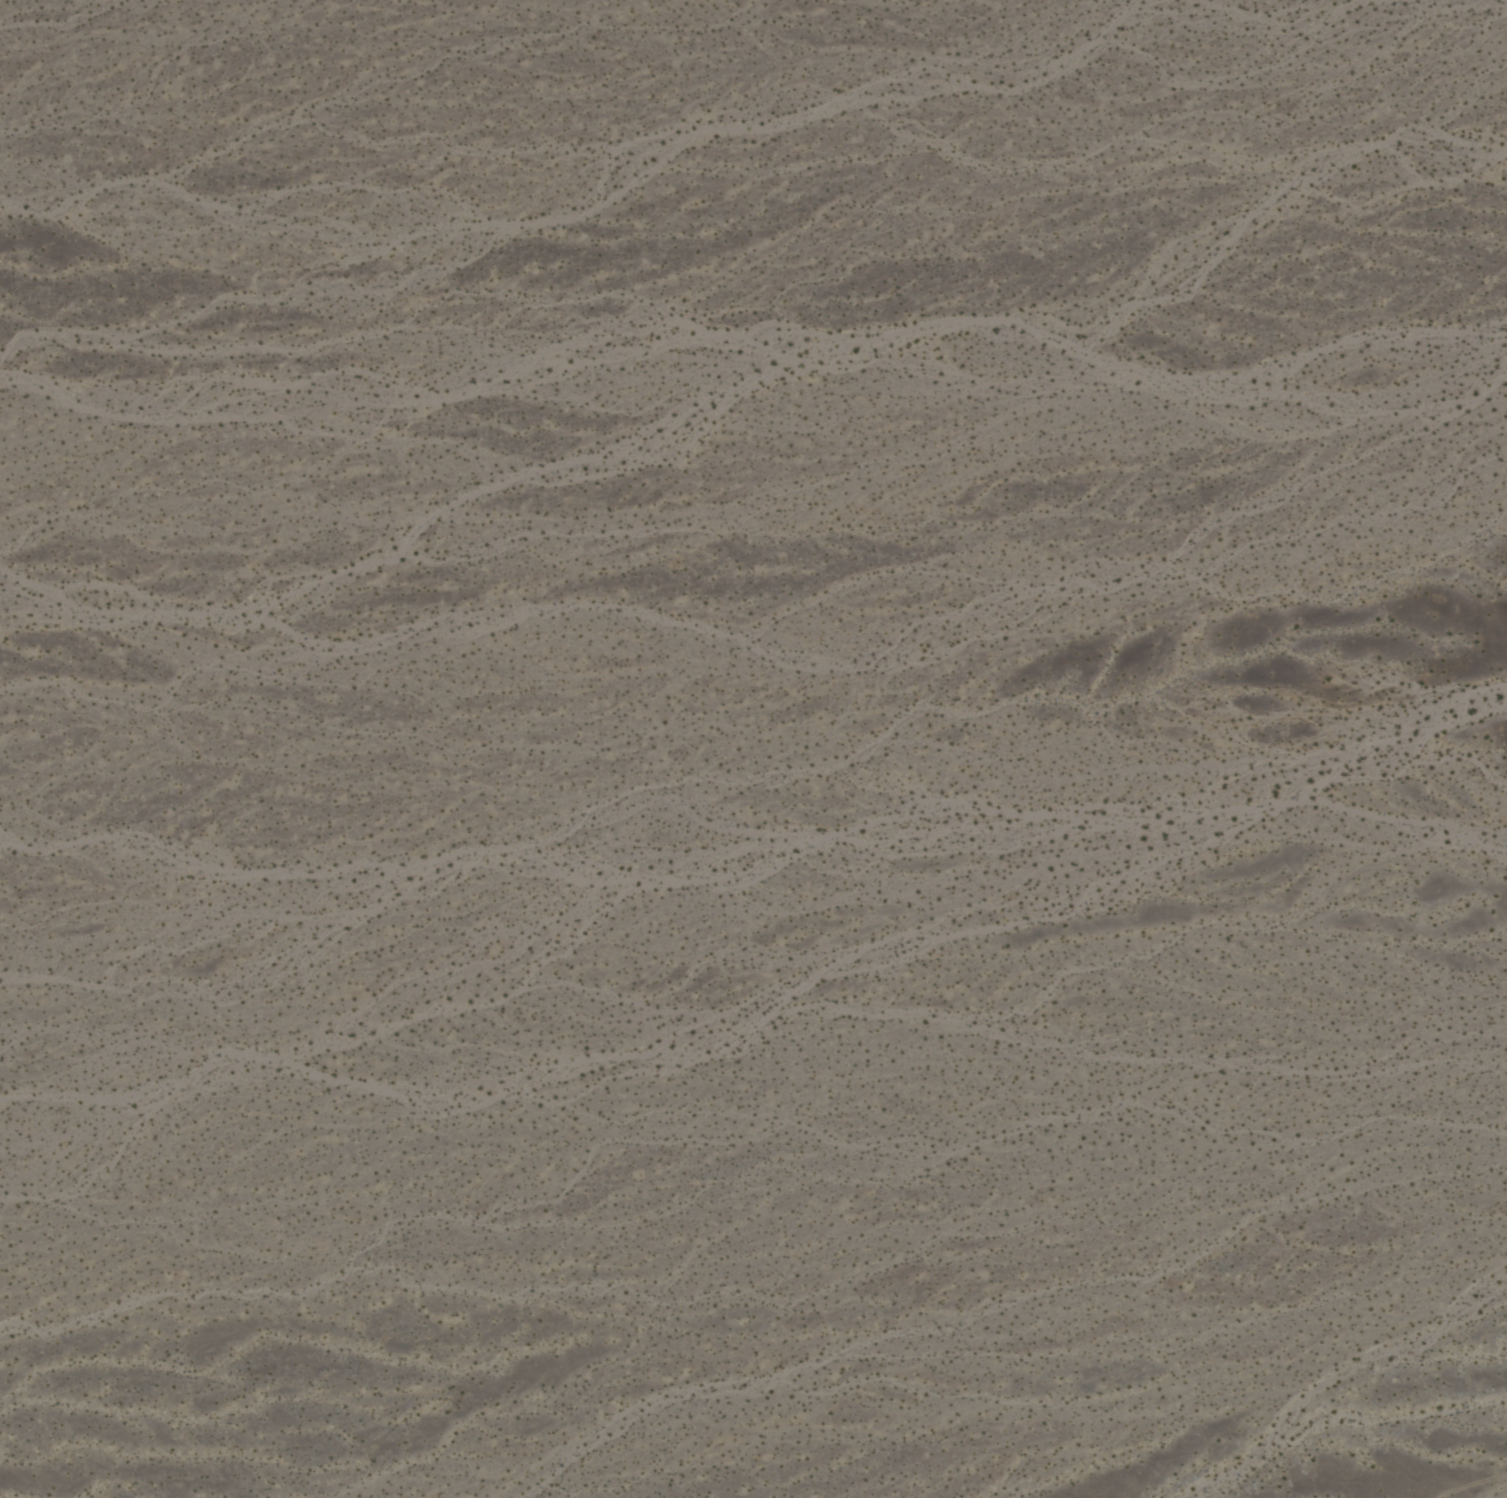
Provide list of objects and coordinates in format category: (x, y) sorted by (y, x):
road: (1472, 1480)

